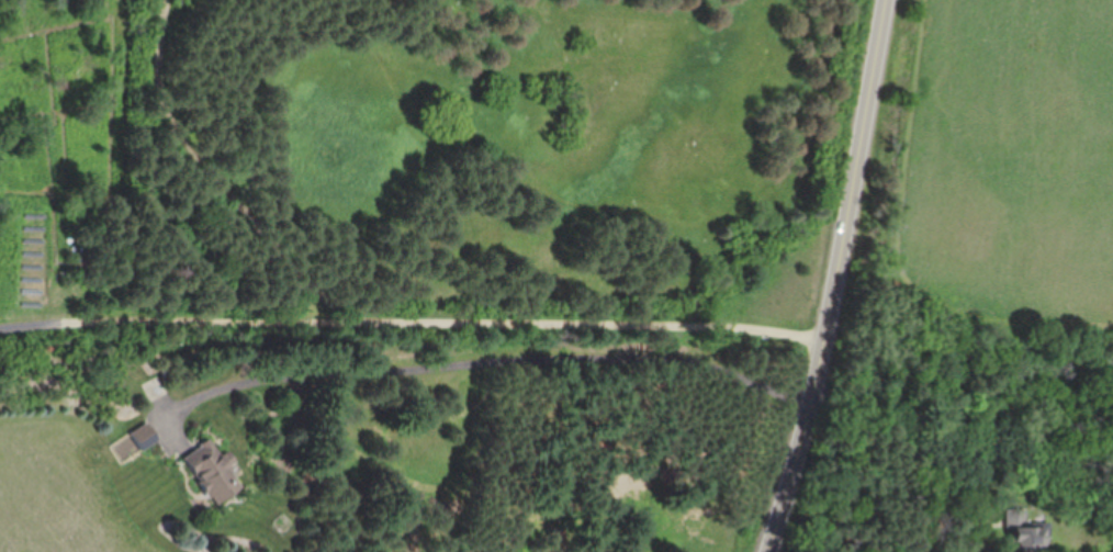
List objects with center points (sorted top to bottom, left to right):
road: (207, 178)
road: (896, 248)
road: (835, 278)
road: (413, 320)
road: (496, 358)
building: (151, 387)
building: (143, 436)
building: (211, 471)
building: (1023, 530)

